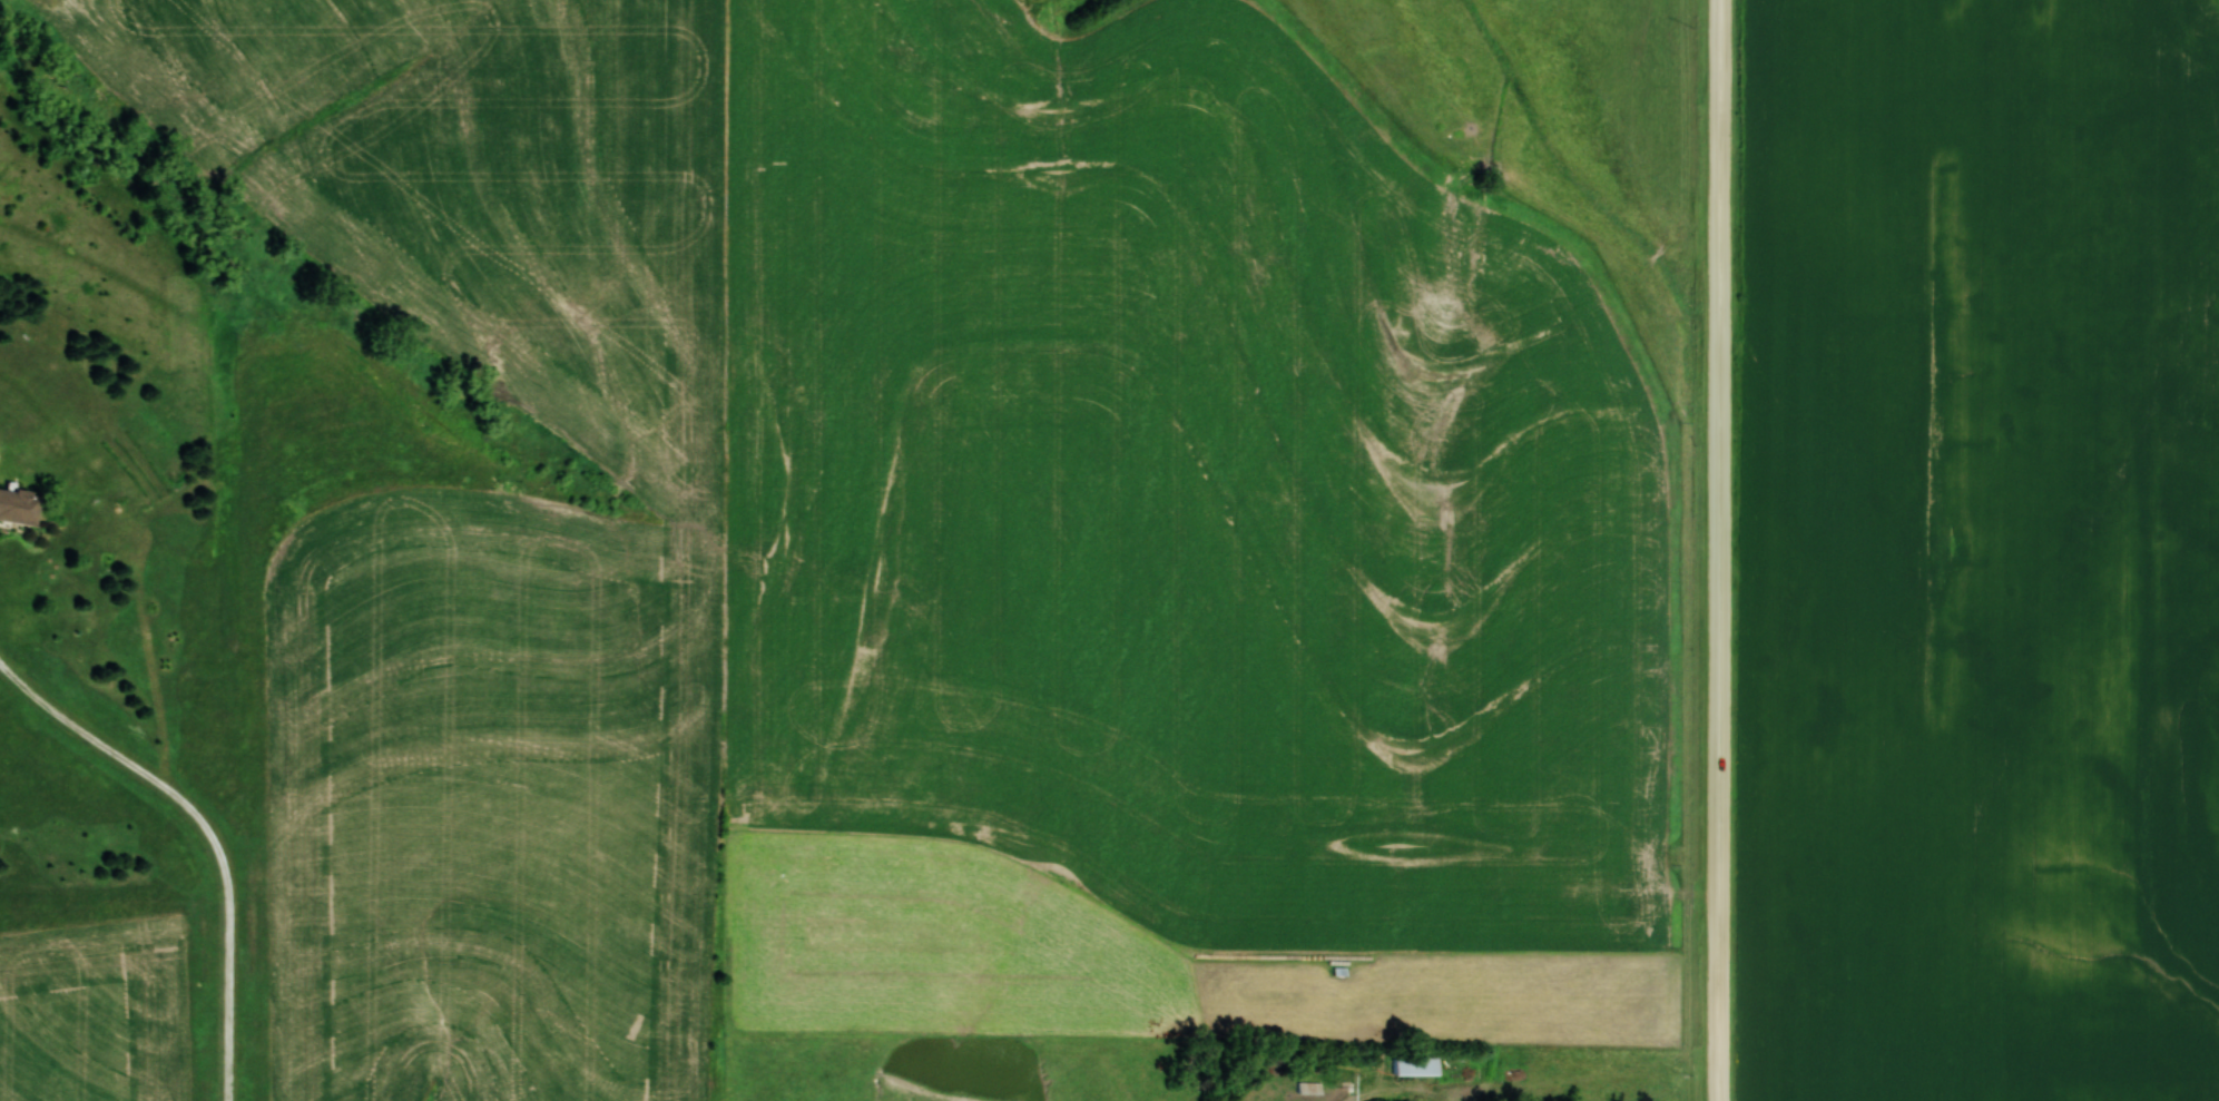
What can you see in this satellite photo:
building: (20, 505)
road: (1719, 550)
building: (1411, 1065)

